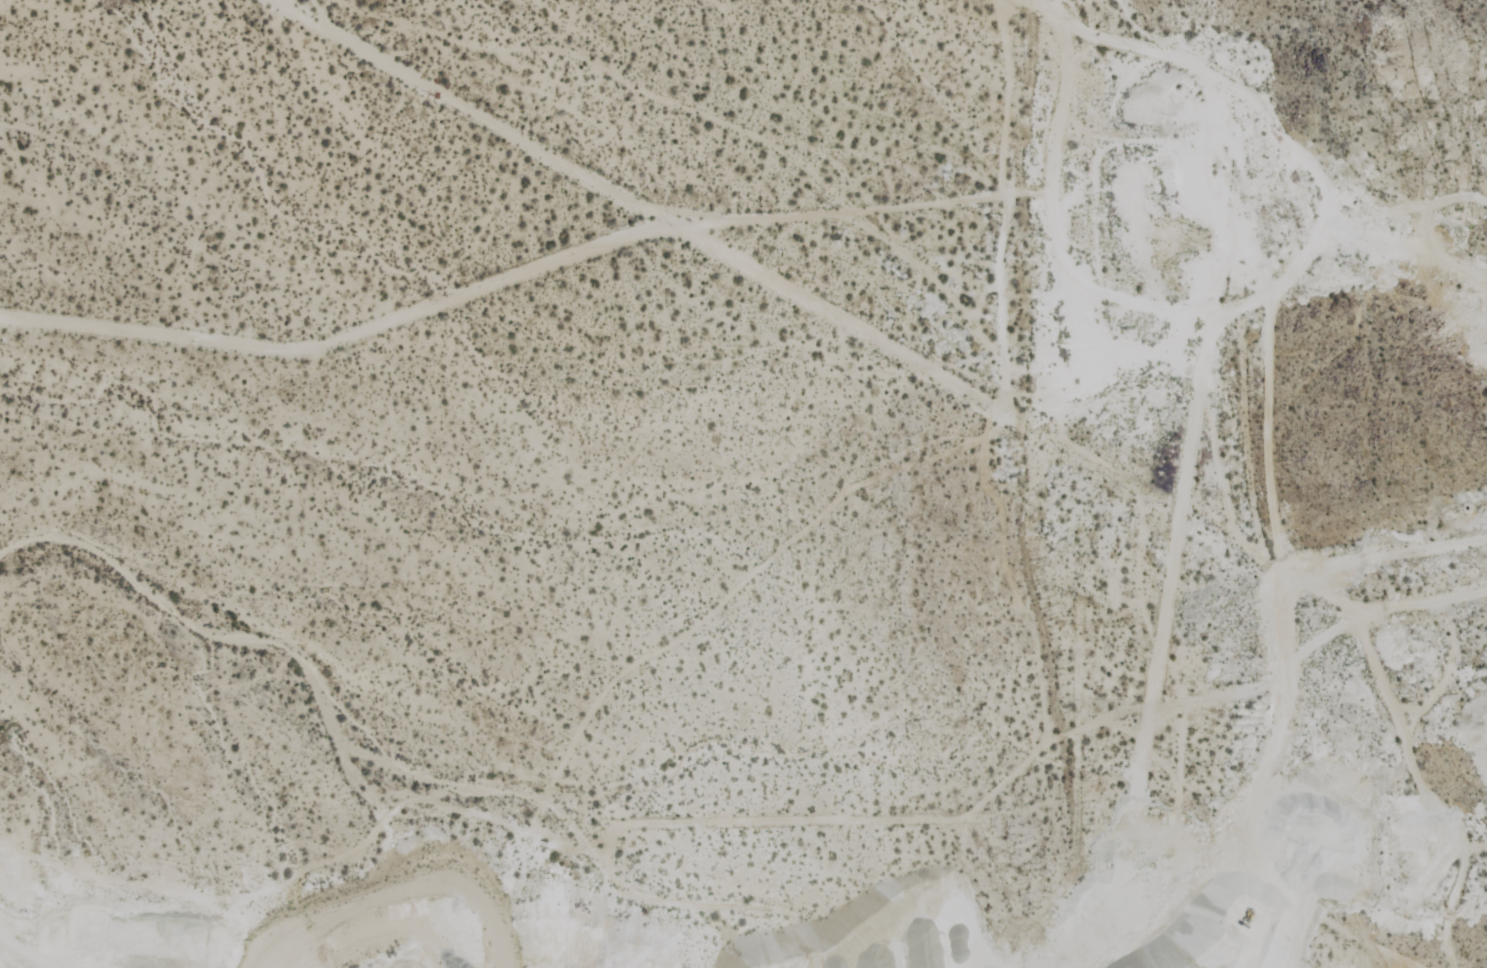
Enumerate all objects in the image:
road: (1038, 98)
road: (642, 207)
road: (343, 338)
quarry: (1137, 562)

